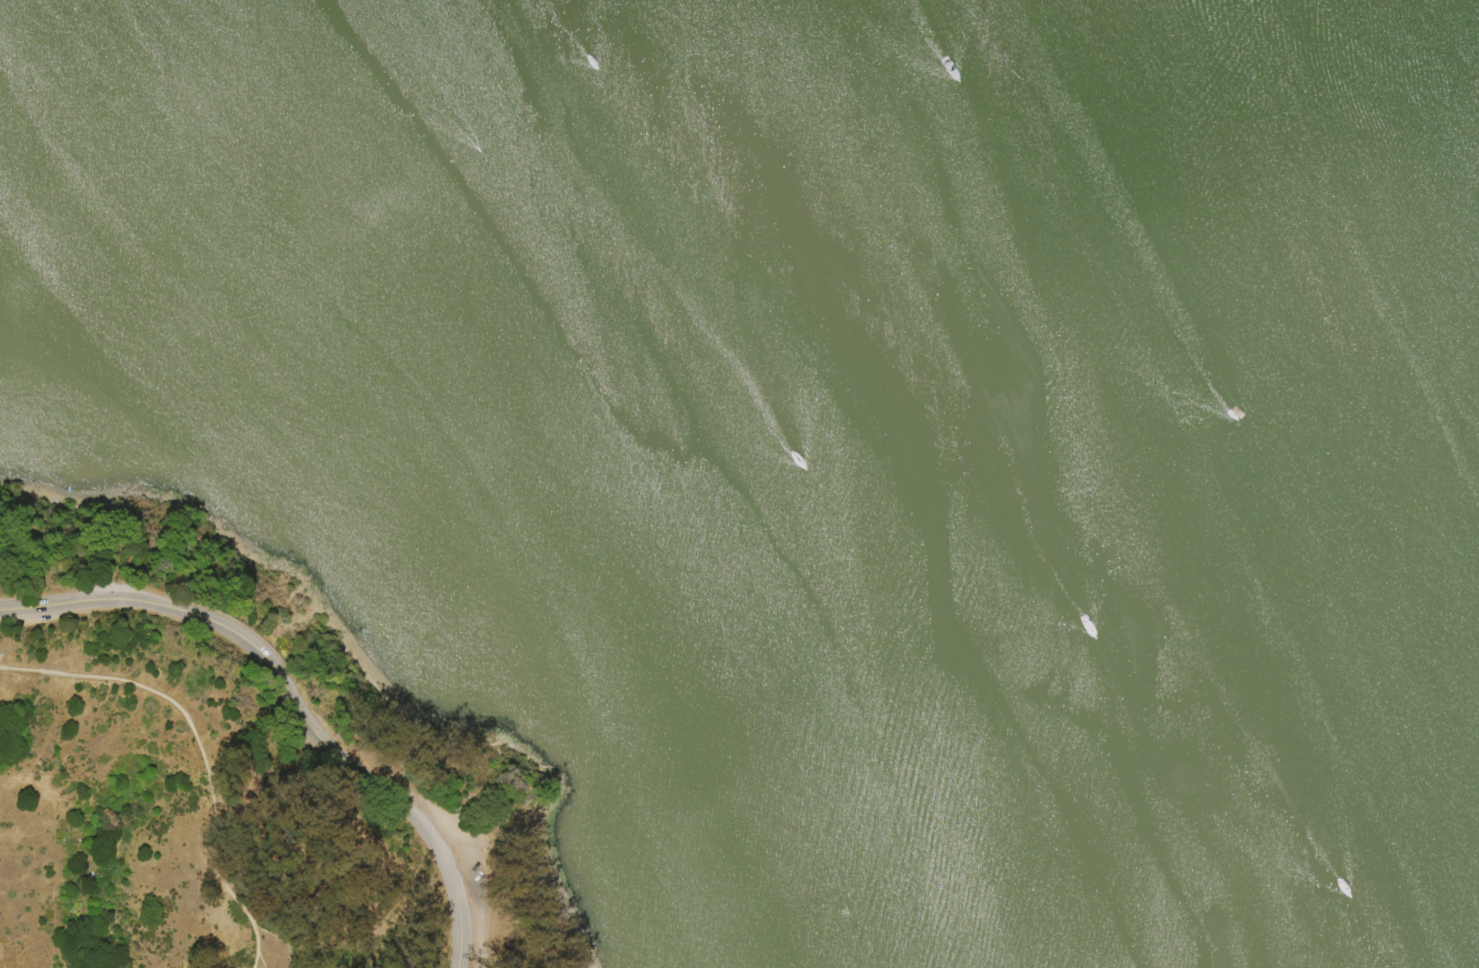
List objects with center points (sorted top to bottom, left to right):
road: (283, 681)
park: (238, 742)
road: (219, 874)
road: (458, 947)
road: (251, 950)
road: (257, 960)
park: (586, 963)

